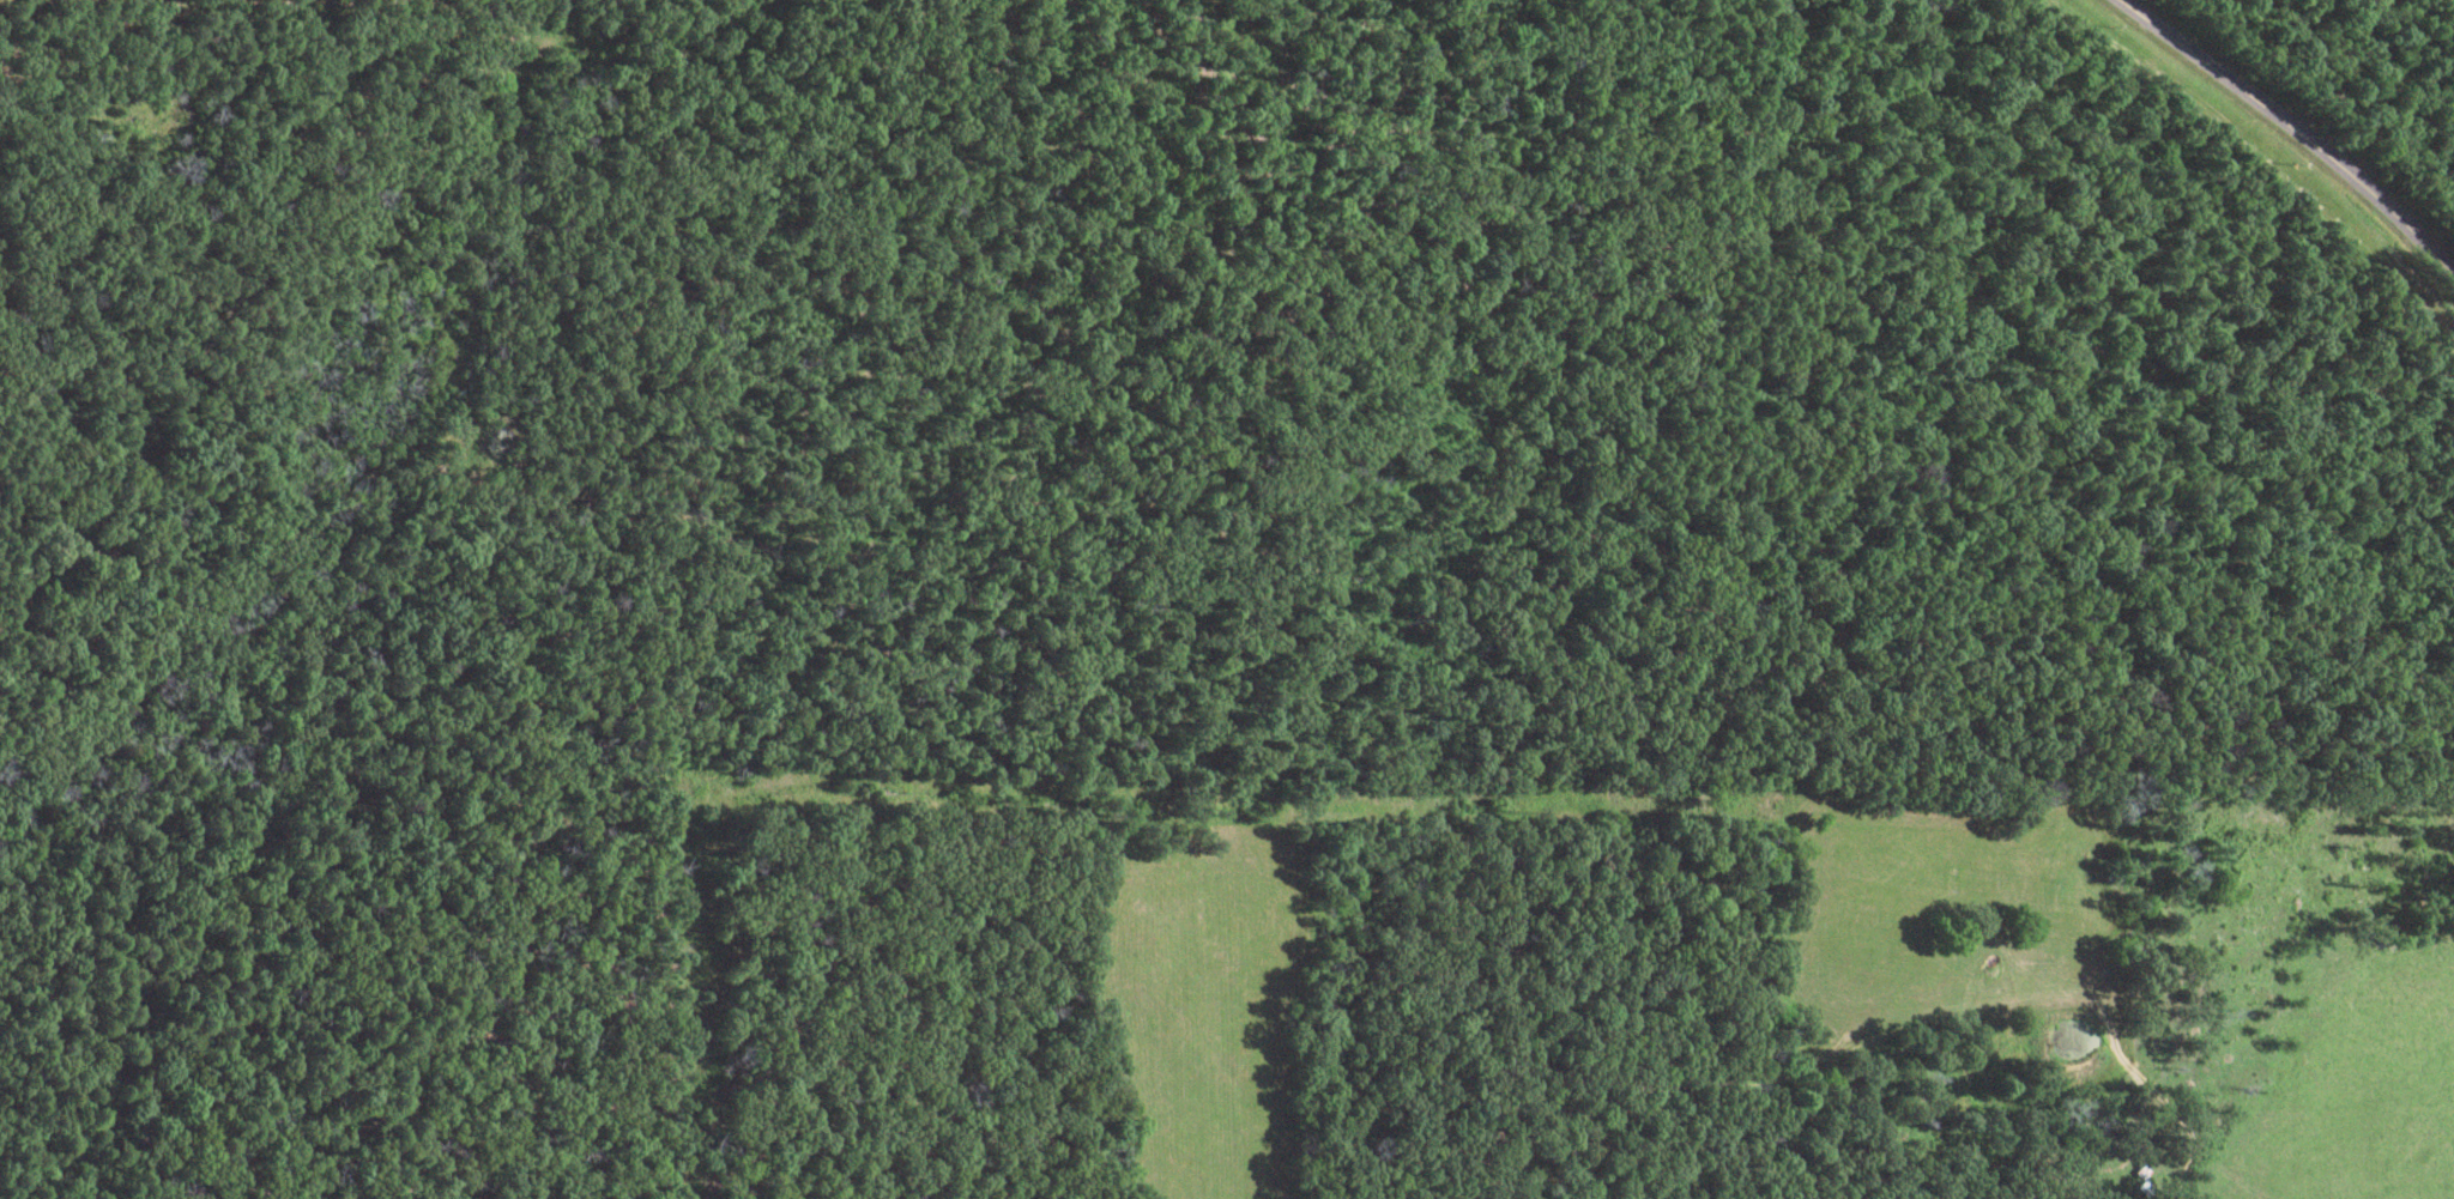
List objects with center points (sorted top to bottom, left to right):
road: (2343, 97)

